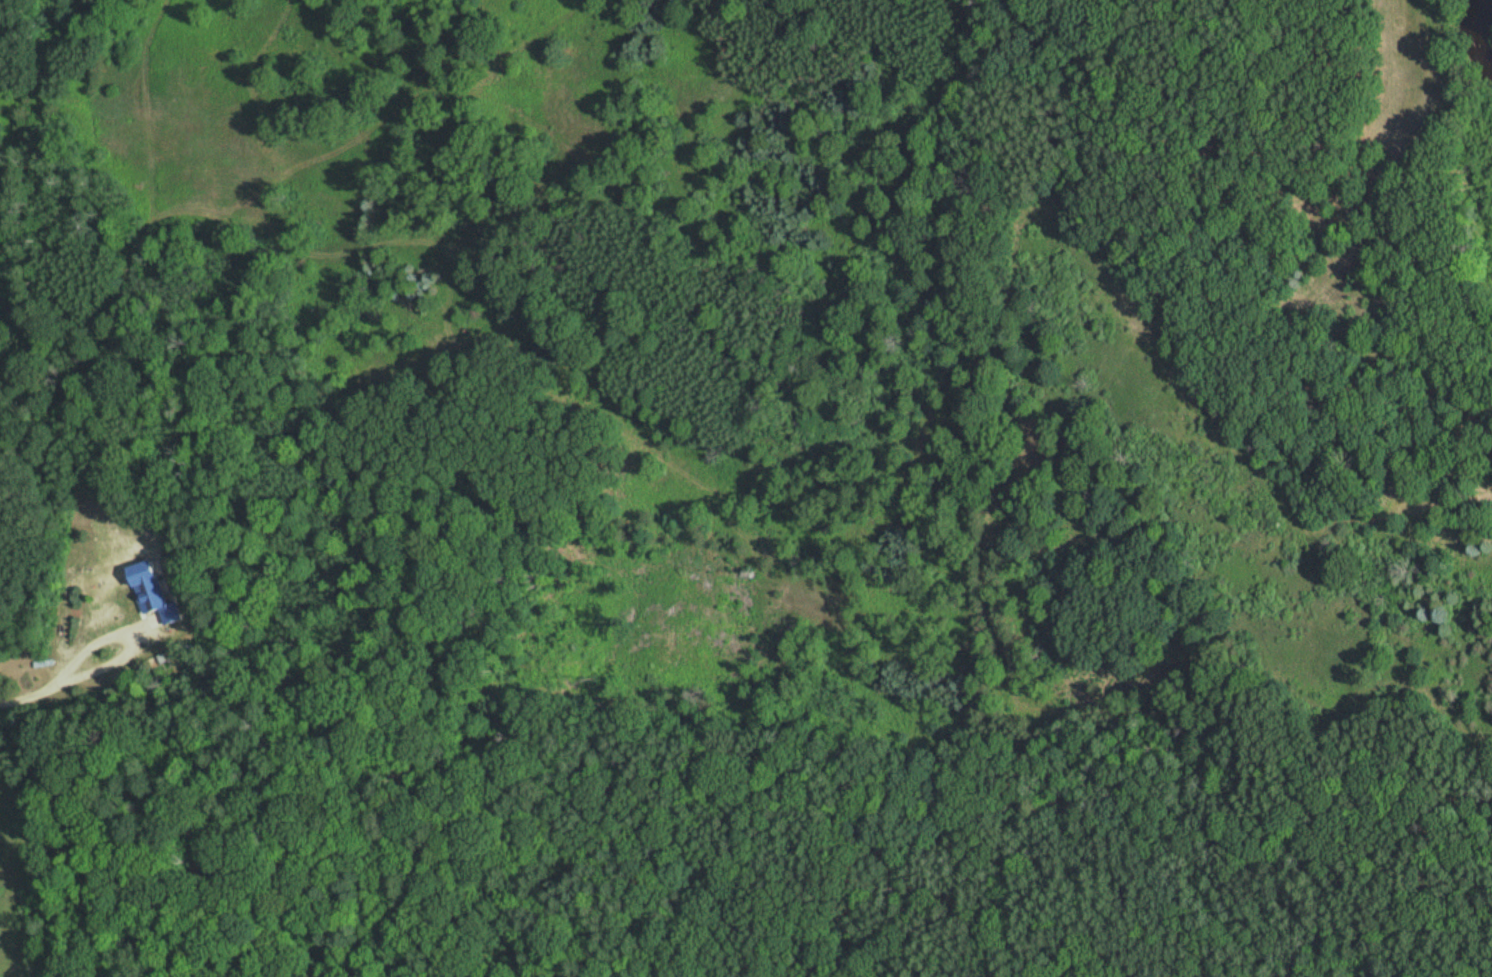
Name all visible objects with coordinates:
river: (1476, 40)
building: (159, 601)

